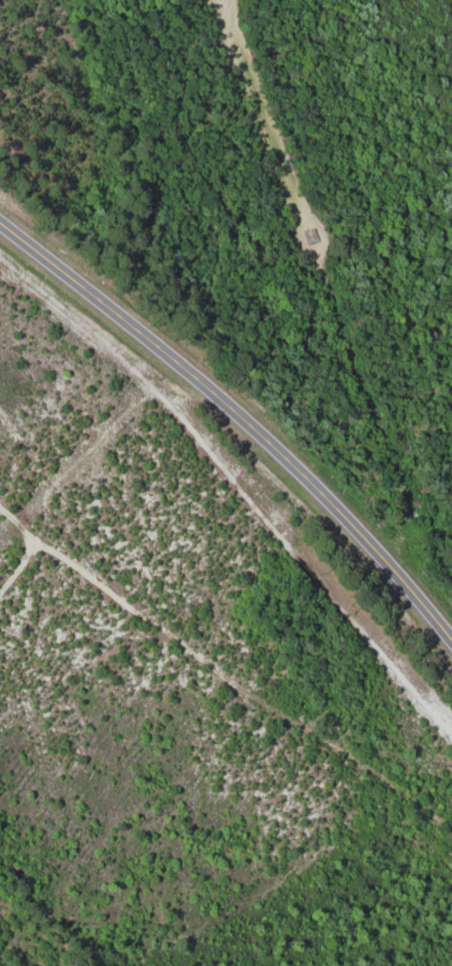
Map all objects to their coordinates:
road: (240, 416)
road: (18, 565)
road: (227, 673)

